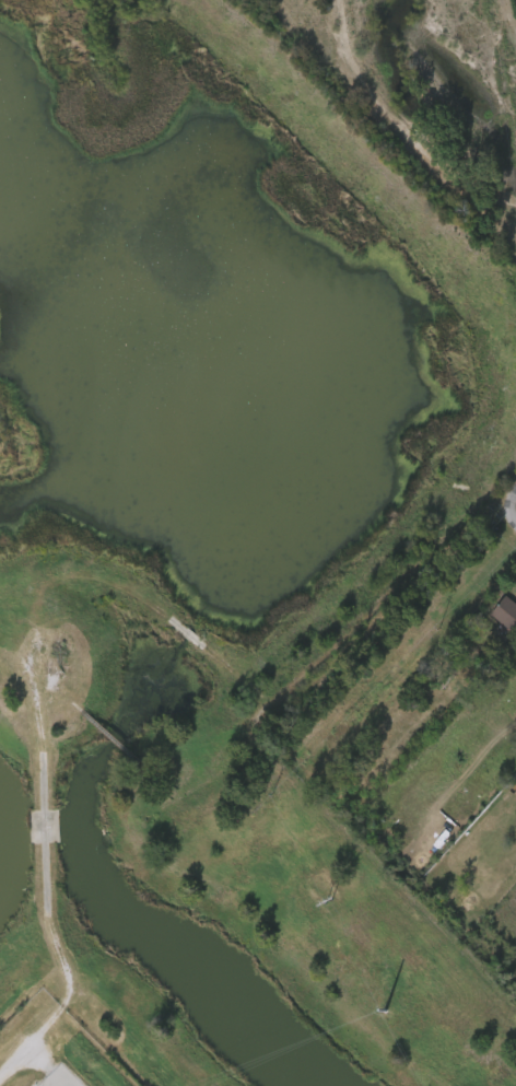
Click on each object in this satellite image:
road: (515, 509)
wastewater plant: (214, 550)
road: (406, 594)
building: (505, 611)
building: (493, 615)
road: (32, 654)
road: (27, 1048)

